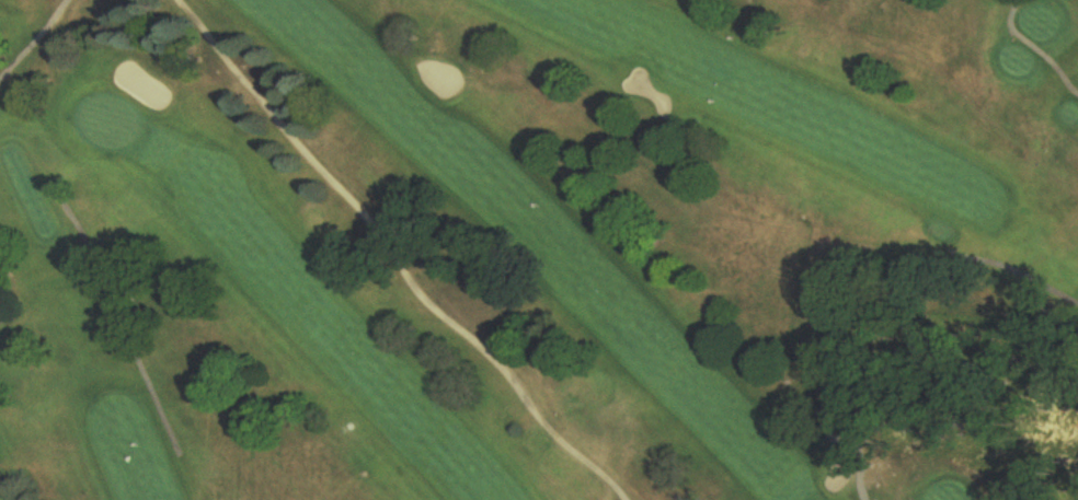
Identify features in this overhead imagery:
park: (539, 249)

